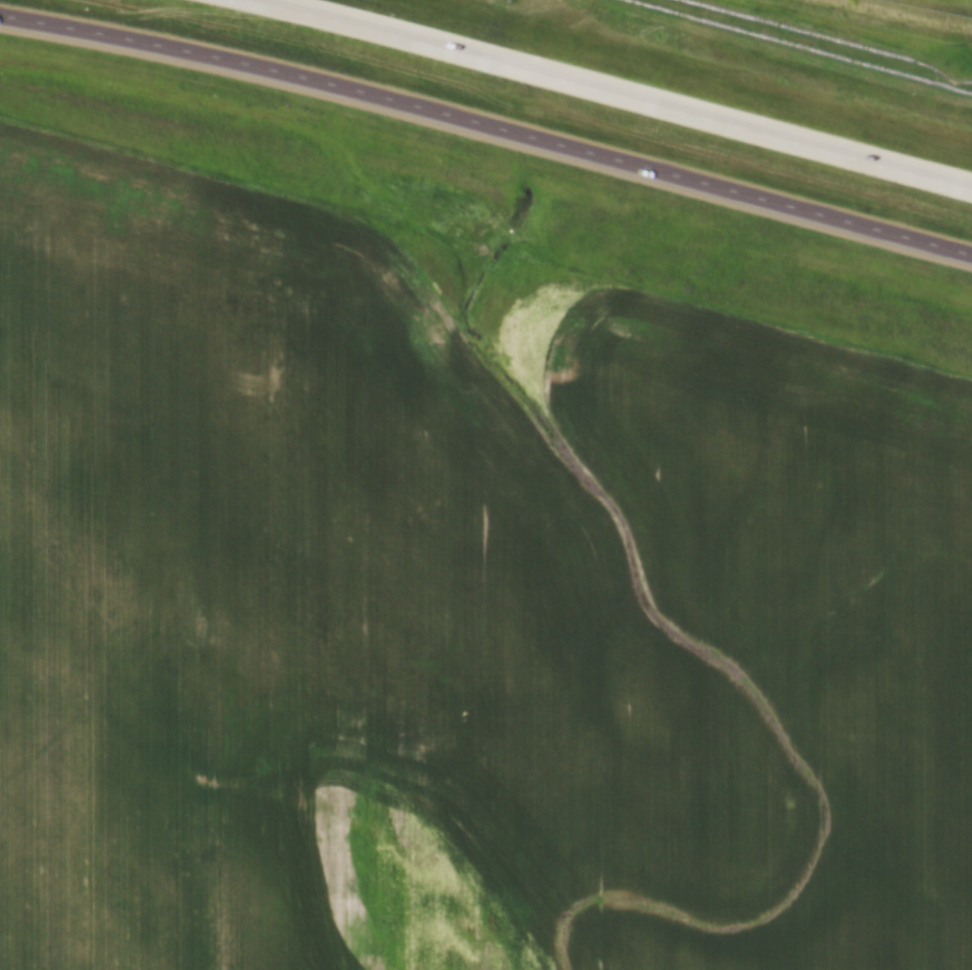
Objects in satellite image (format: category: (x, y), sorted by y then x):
road: (600, 95)
road: (487, 136)

